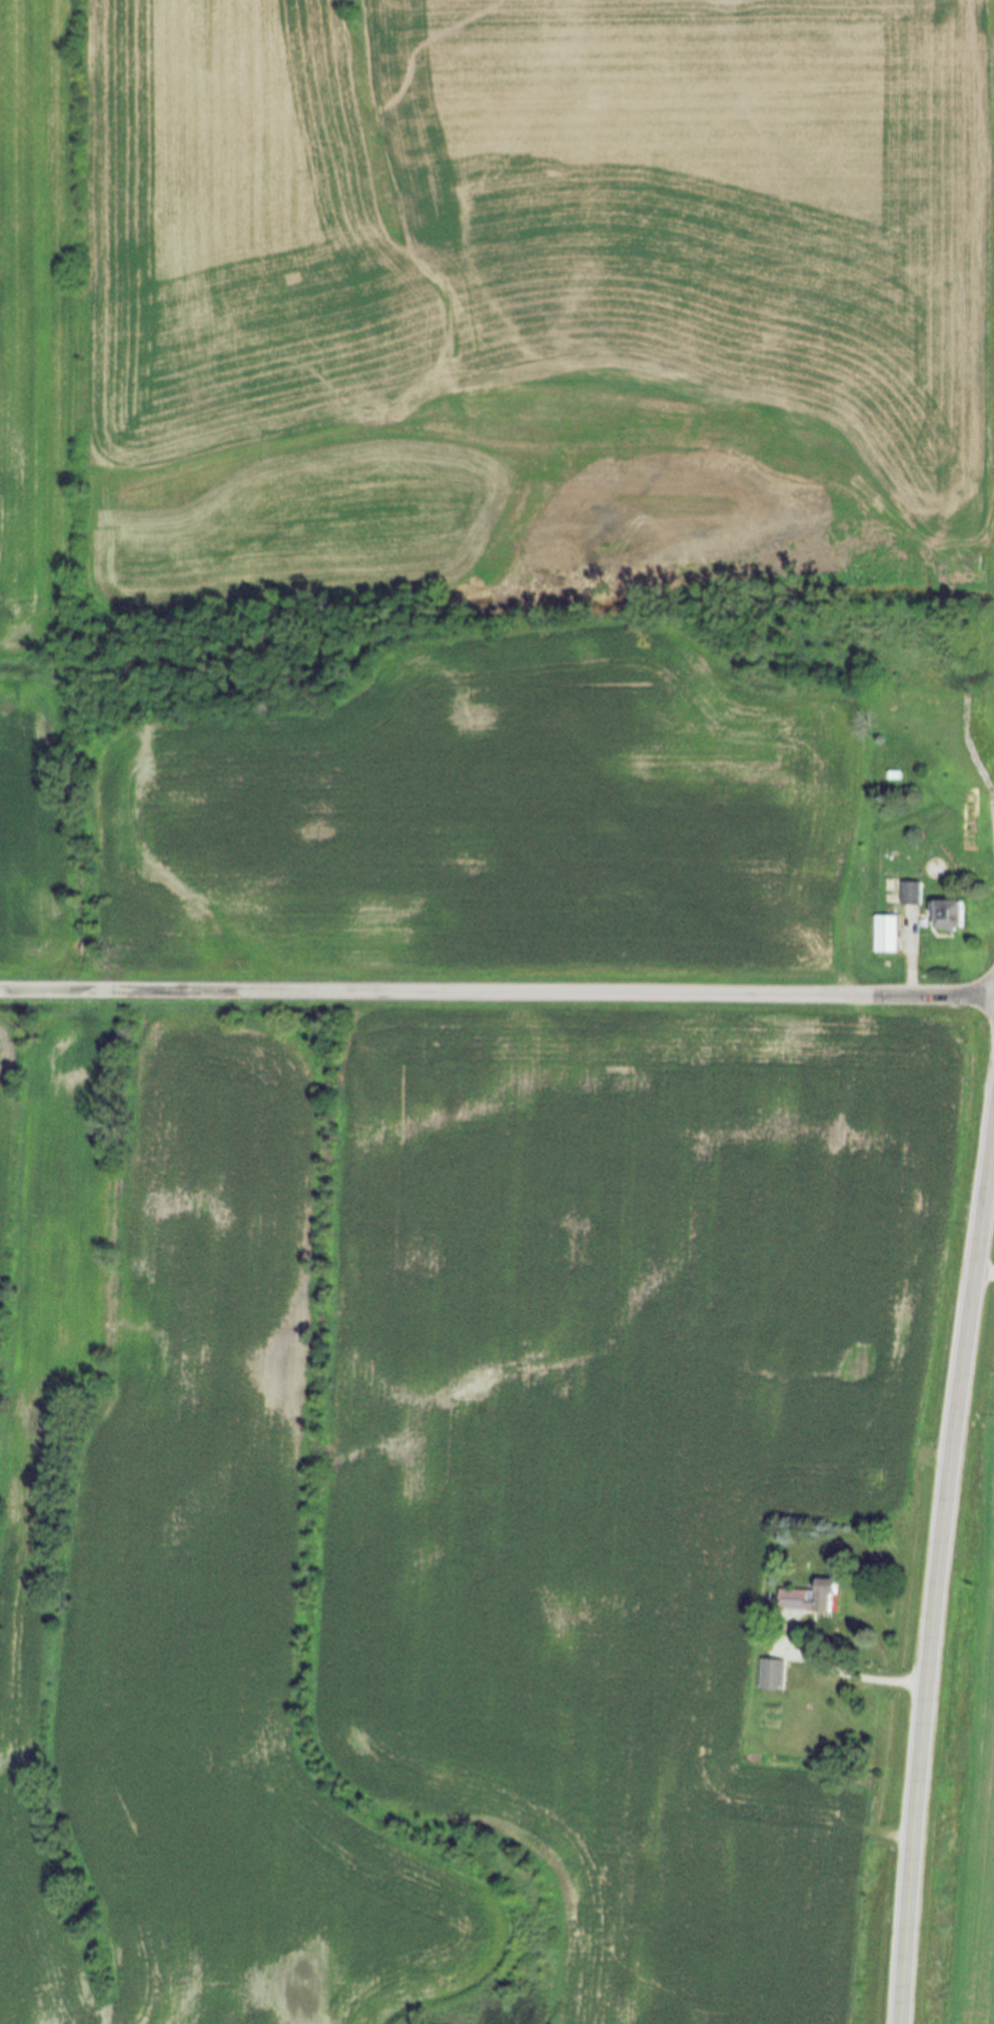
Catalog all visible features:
building: (910, 895)
building: (946, 916)
building: (884, 936)
road: (911, 959)
road: (497, 994)
road: (983, 1273)
road: (937, 1576)
building: (807, 1599)
building: (780, 1676)
road: (854, 1677)

